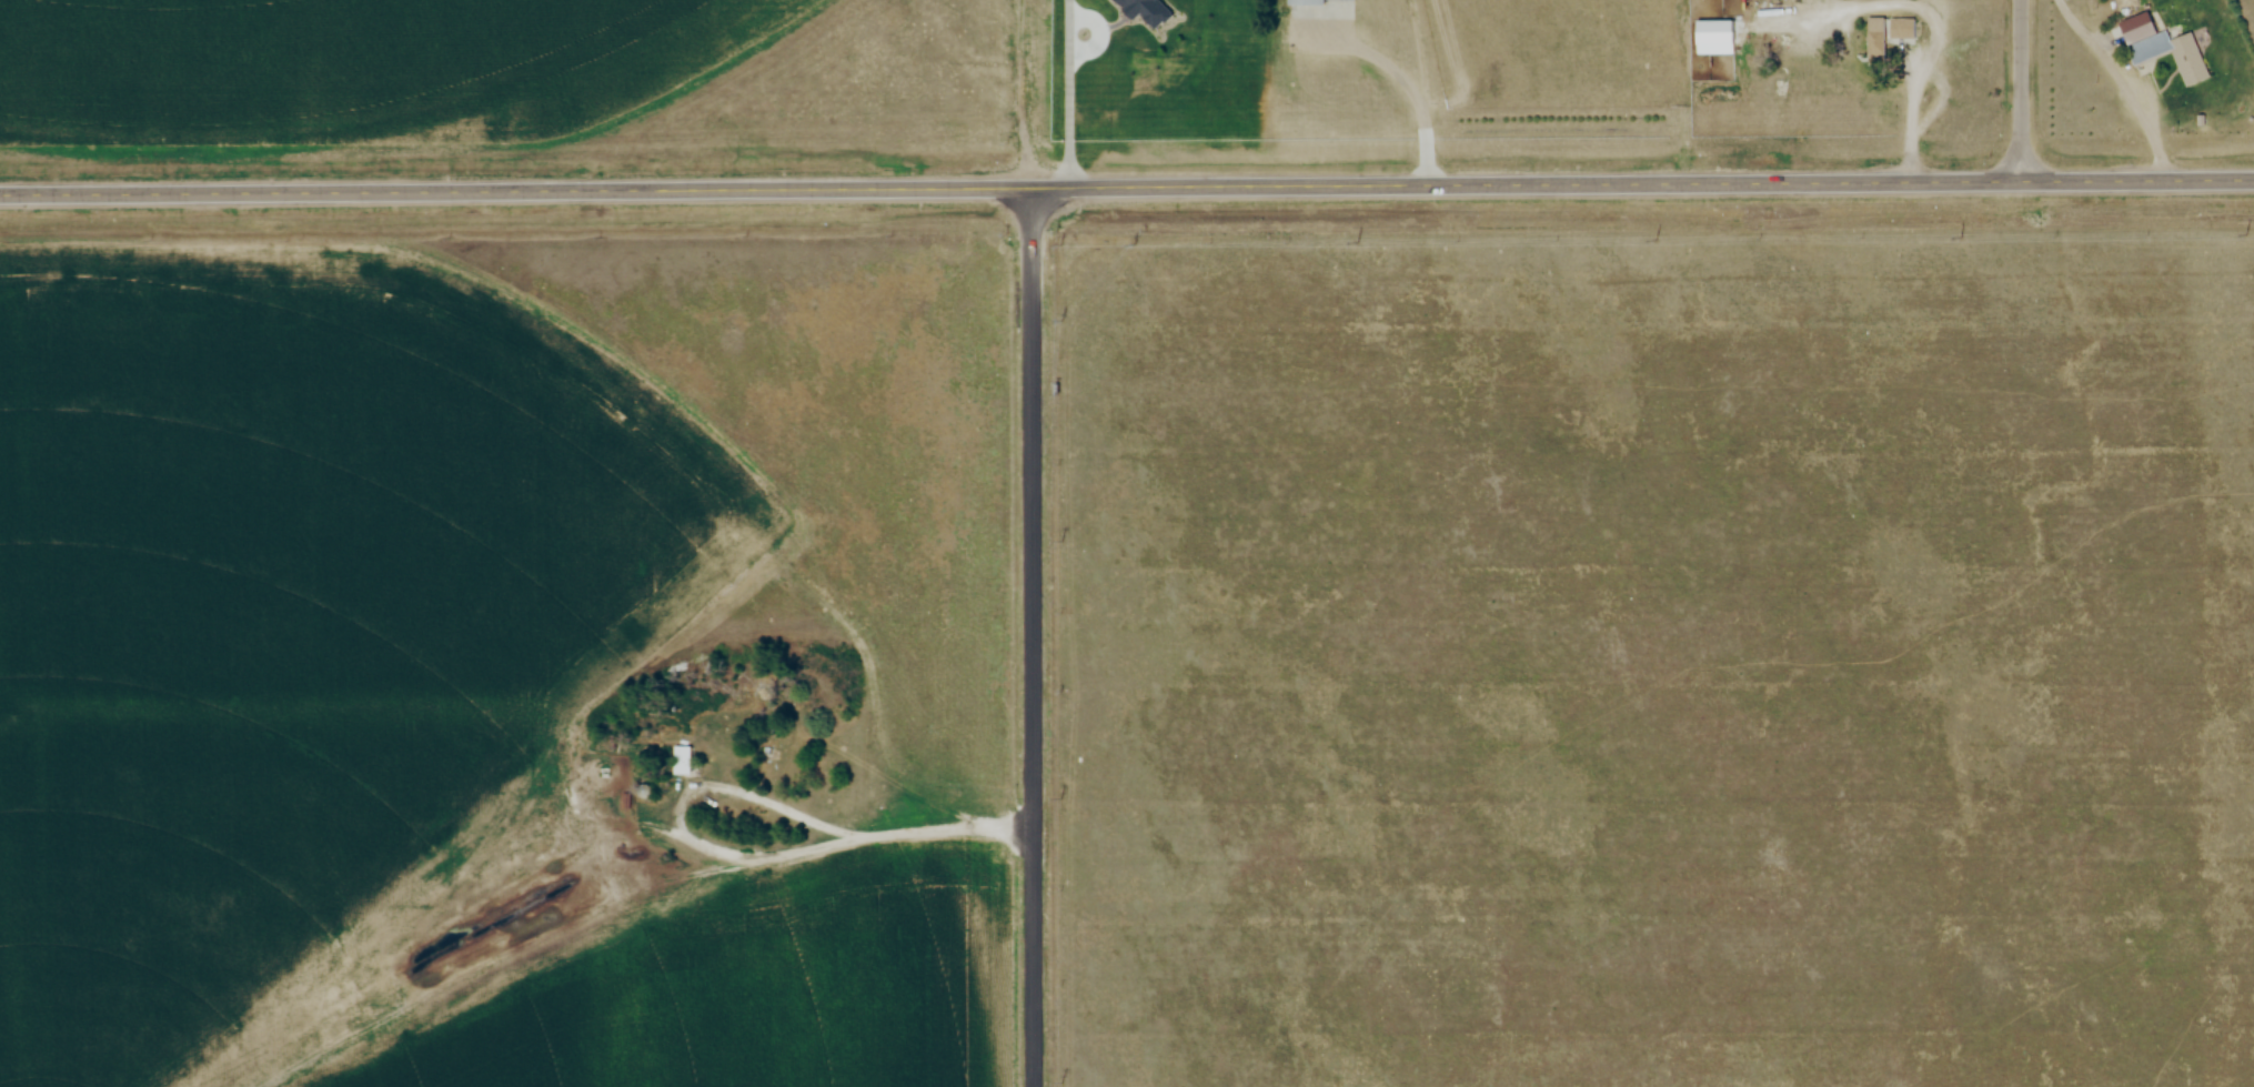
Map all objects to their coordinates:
building: (1315, 0)
building: (1144, 6)
building: (2131, 27)
building: (1896, 29)
building: (1871, 39)
building: (2145, 49)
road: (1915, 50)
road: (2021, 91)
road: (1067, 93)
road: (1126, 187)
road: (1030, 637)
building: (685, 761)

